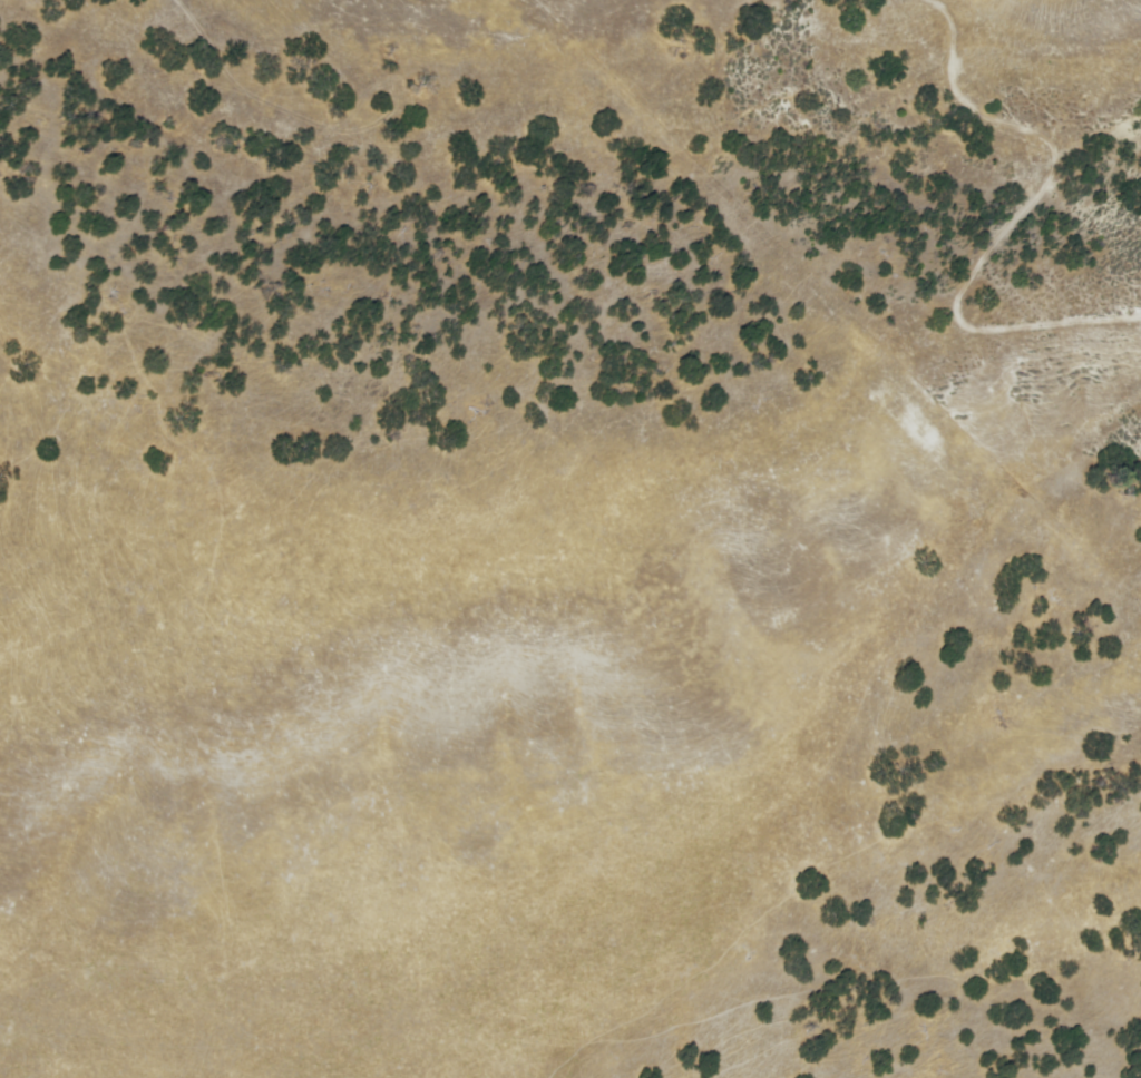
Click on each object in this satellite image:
road: (1008, 223)

